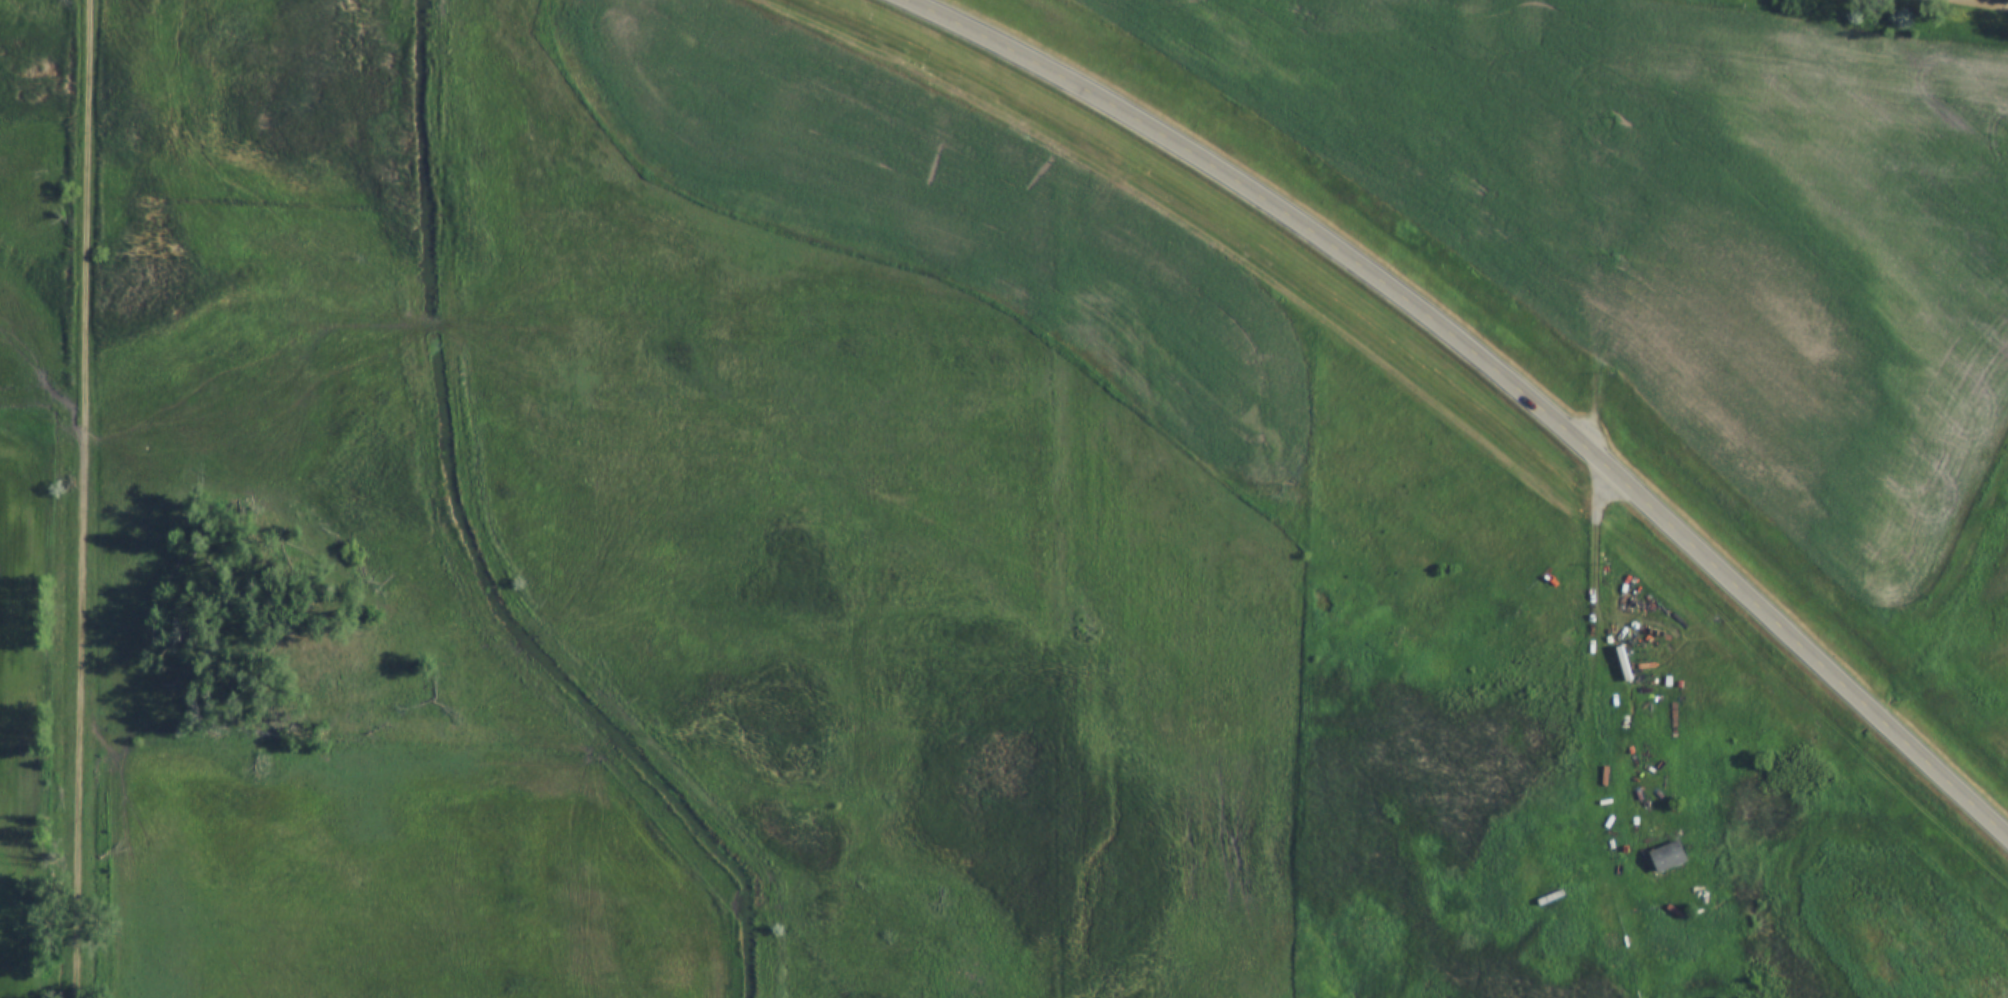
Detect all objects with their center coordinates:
road: (1984, 3)
road: (1492, 369)
road: (82, 499)
road: (1597, 639)
building: (1666, 856)

